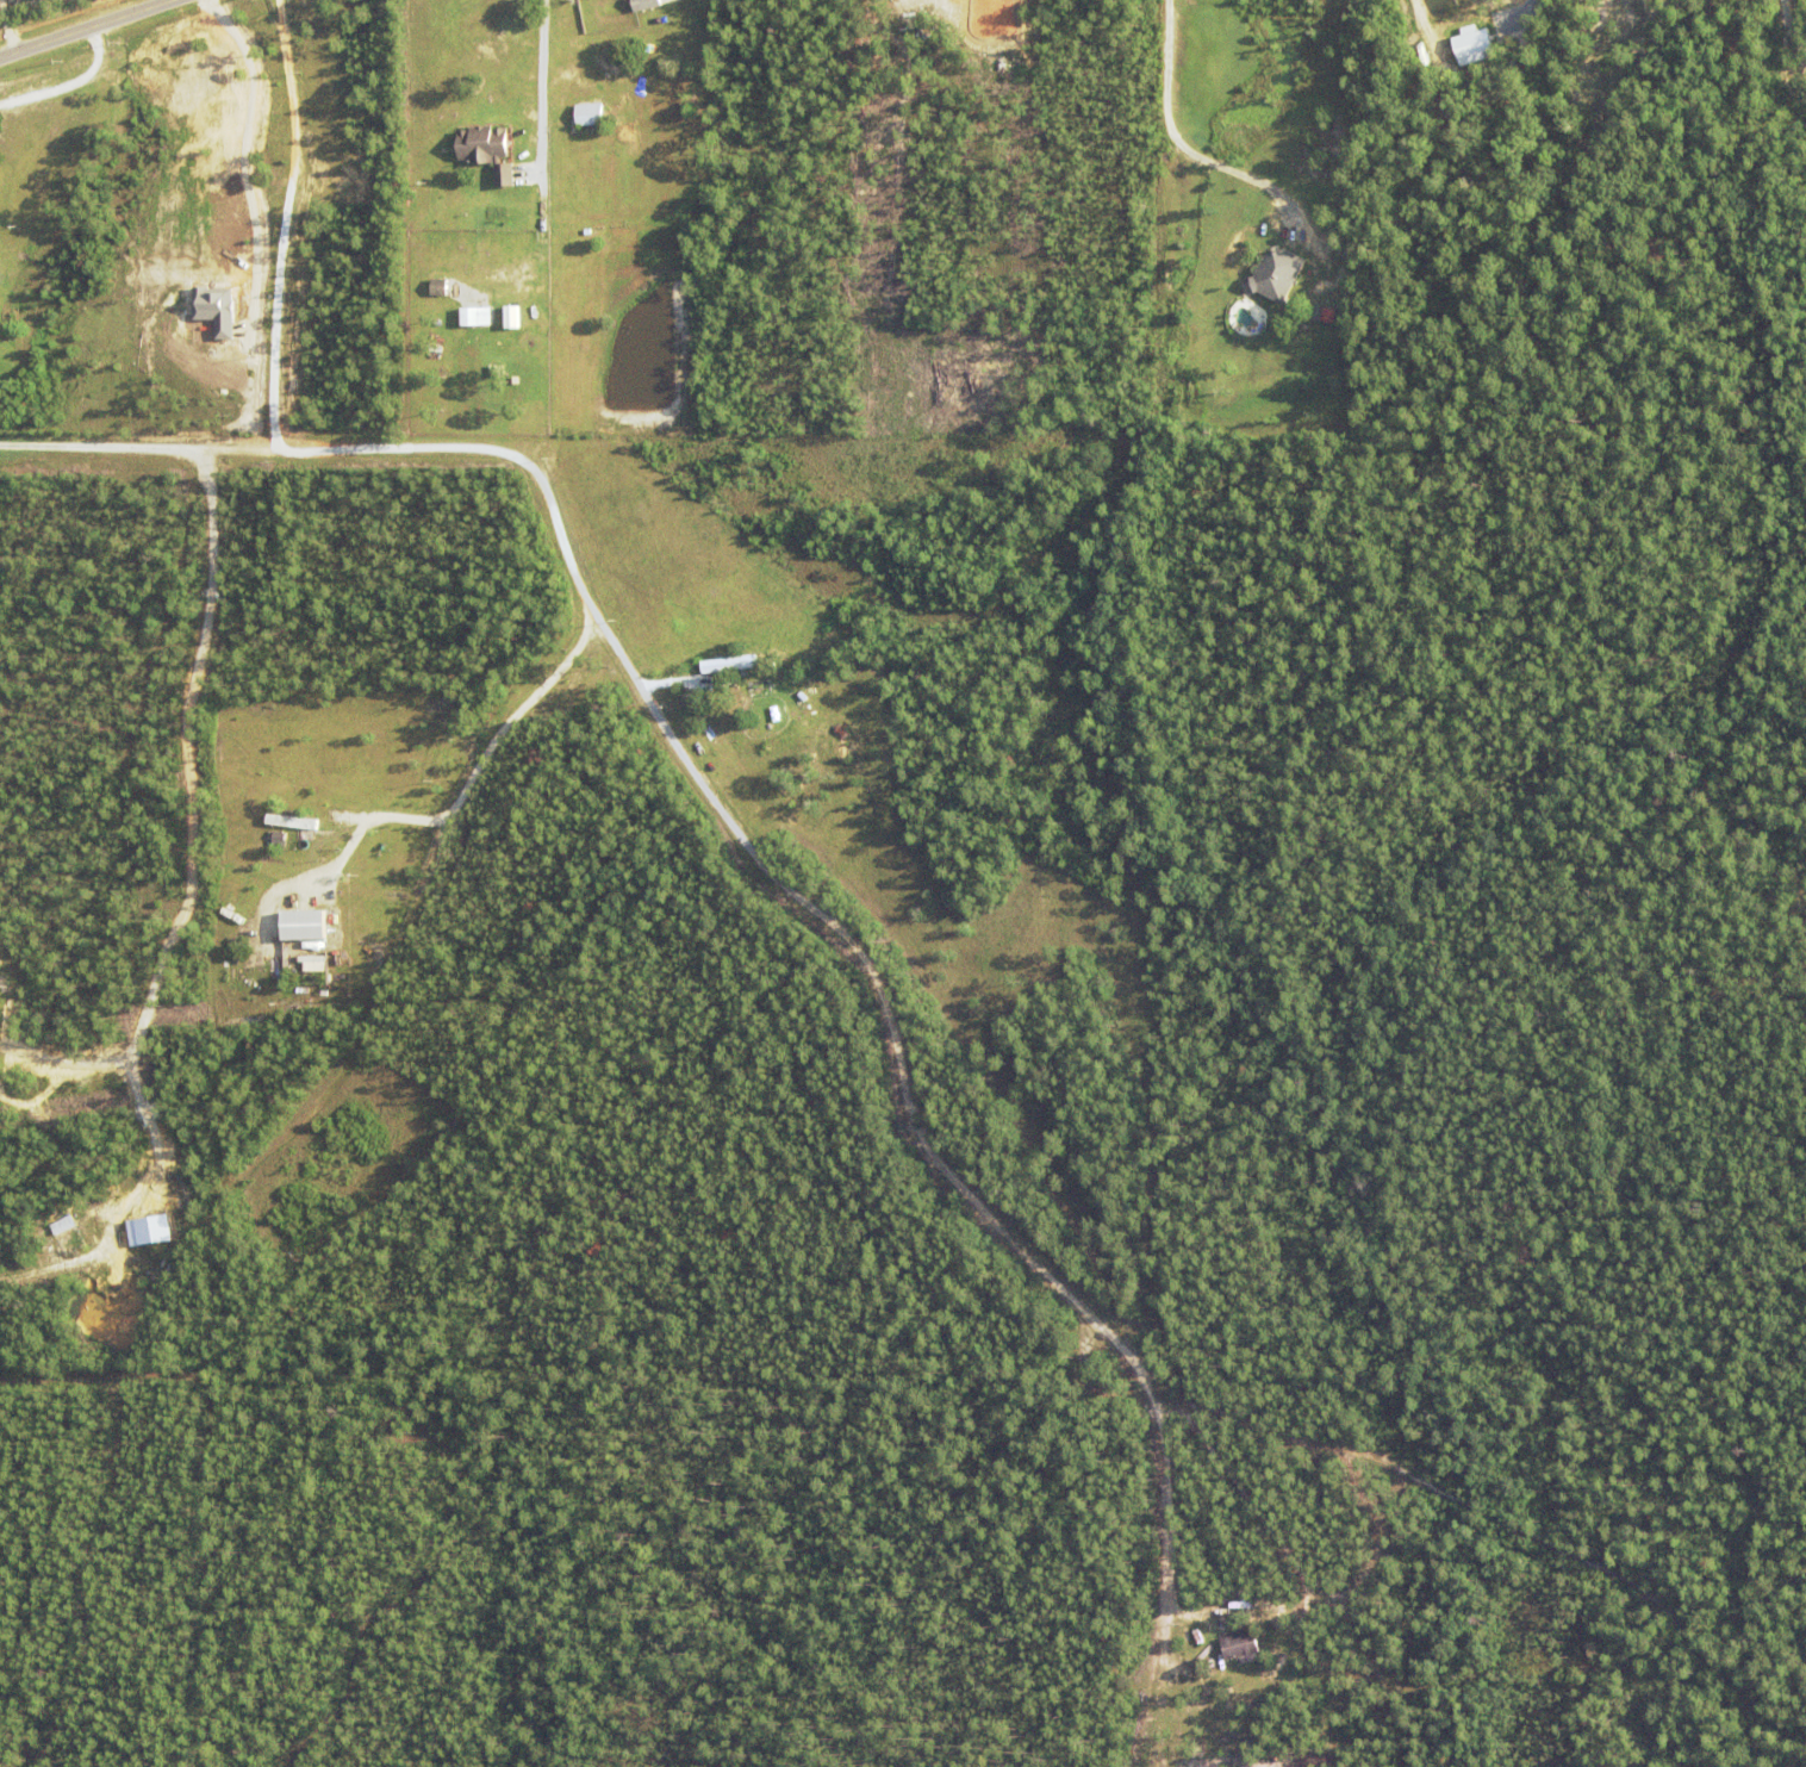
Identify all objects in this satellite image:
building: (650, 5)
road: (88, 30)
building: (1472, 44)
road: (1563, 58)
road: (67, 82)
building: (591, 116)
road: (540, 124)
building: (490, 153)
building: (1279, 276)
building: (441, 288)
building: (1318, 315)
building: (510, 316)
building: (478, 319)
building: (727, 664)
road: (681, 758)
building: (289, 820)
building: (301, 923)
building: (312, 962)
building: (1239, 1643)

